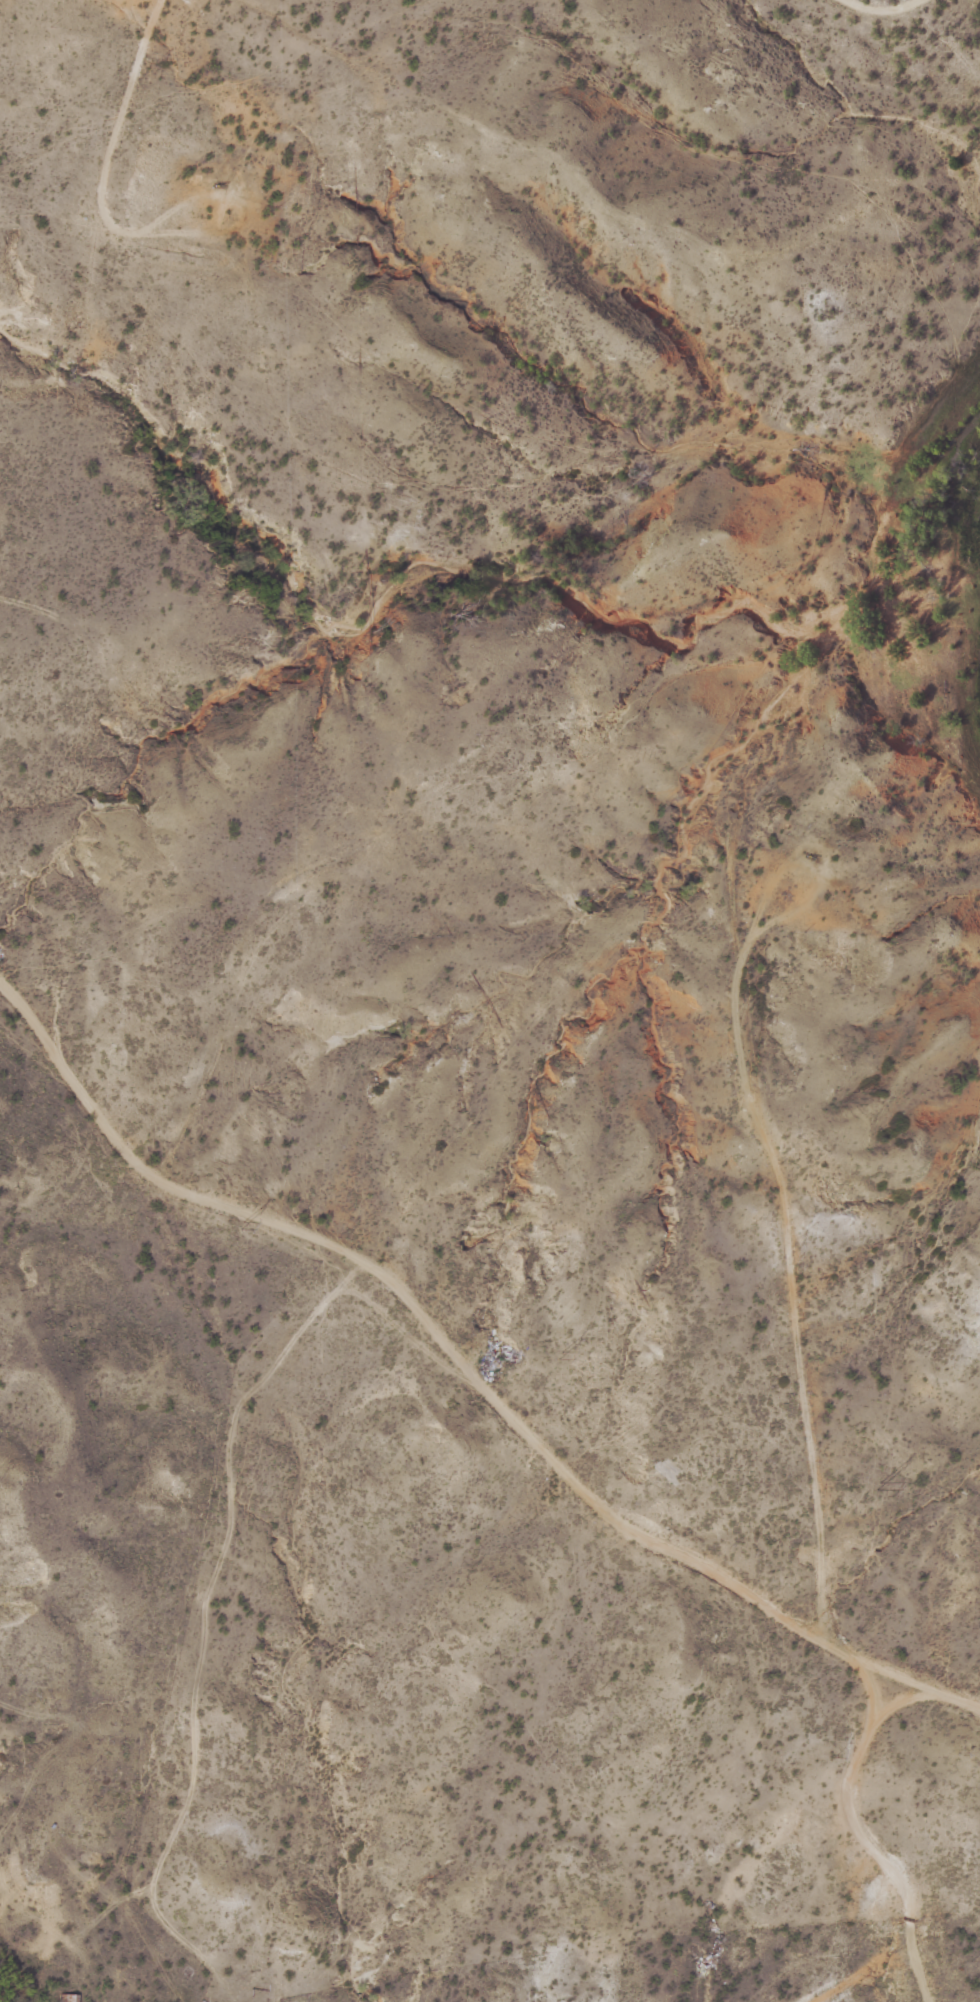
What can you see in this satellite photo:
power tower: (243, 1229)
power tower: (560, 1355)
power tower: (878, 1487)

